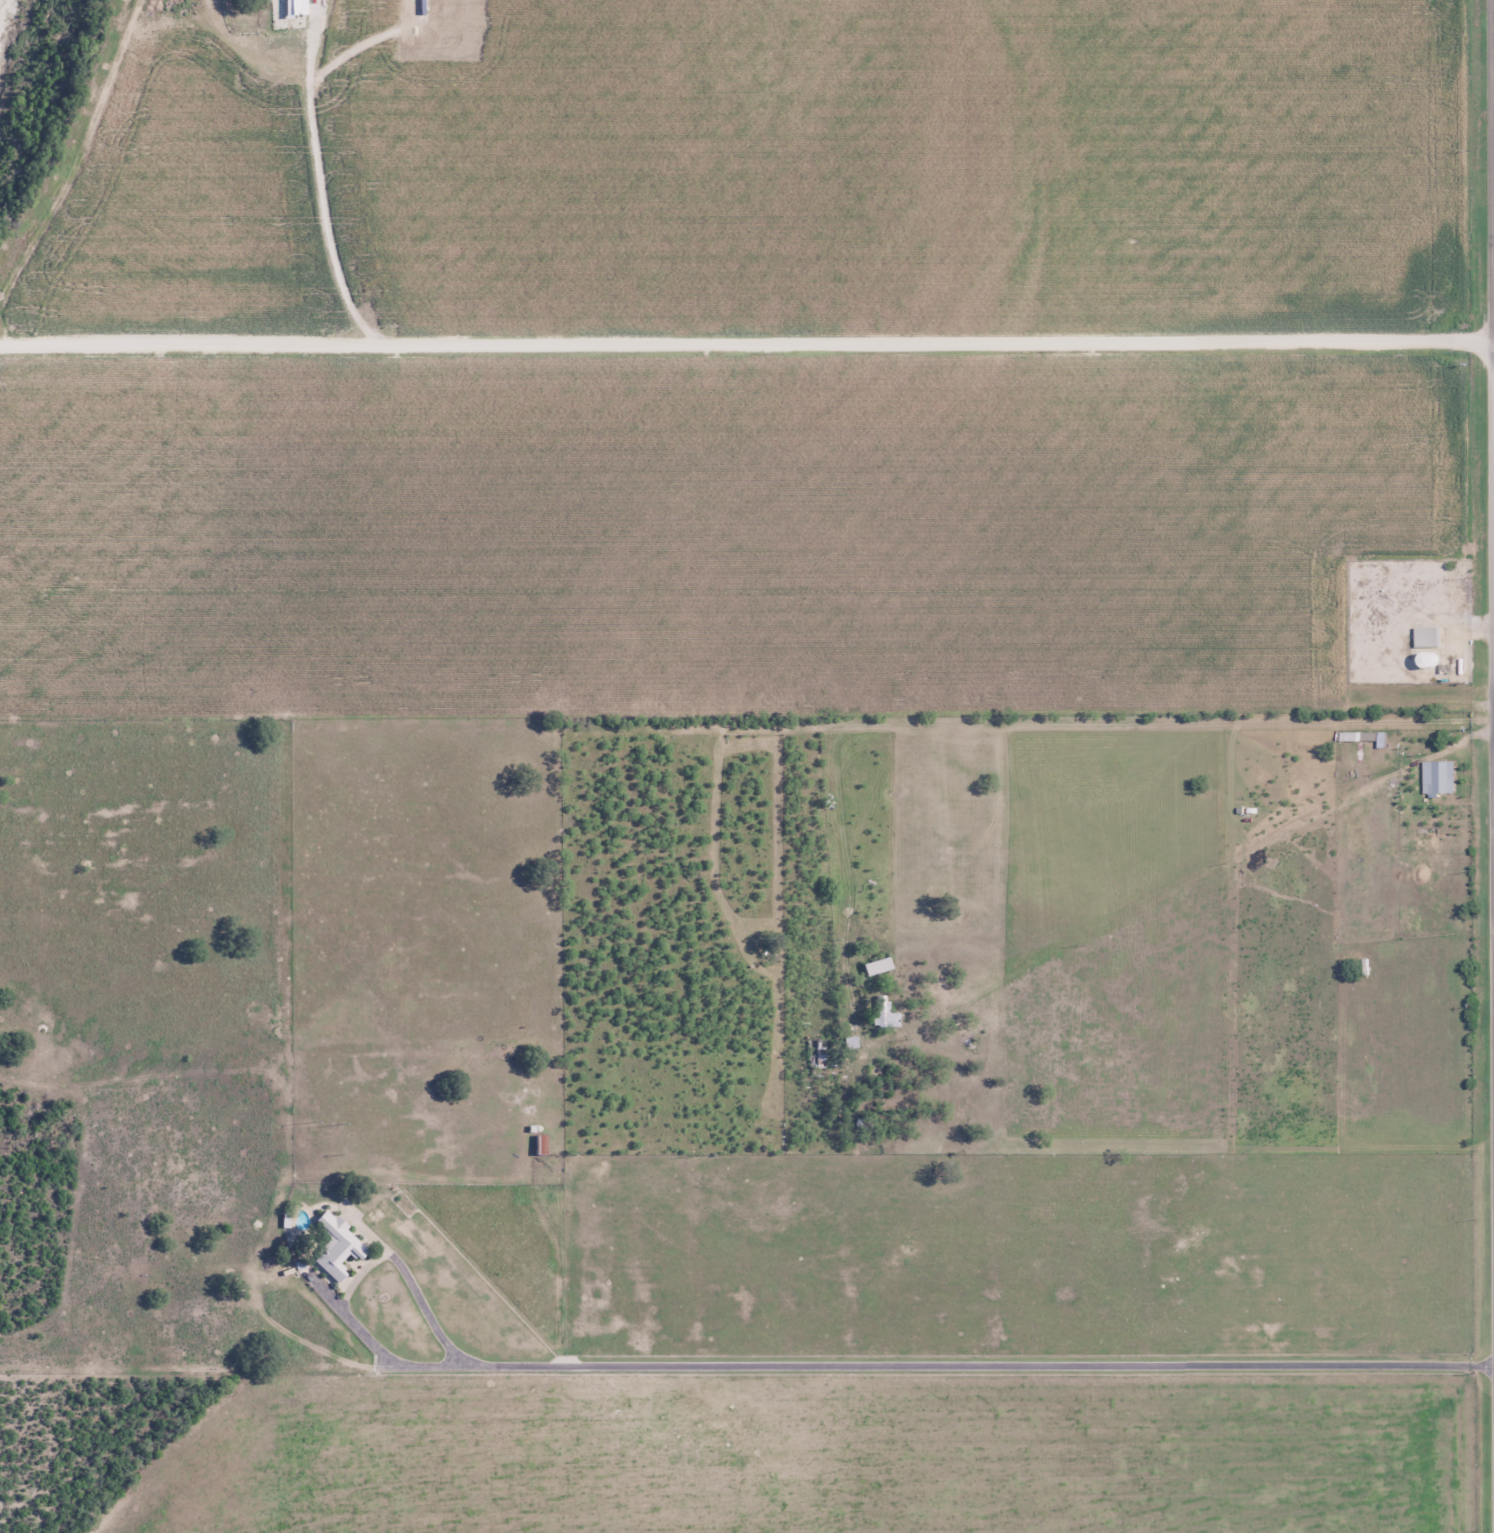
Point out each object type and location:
building: (1424, 638)
building: (1434, 777)
building: (875, 965)
building: (884, 1013)
building: (540, 1144)
building: (336, 1247)
road: (897, 1371)

